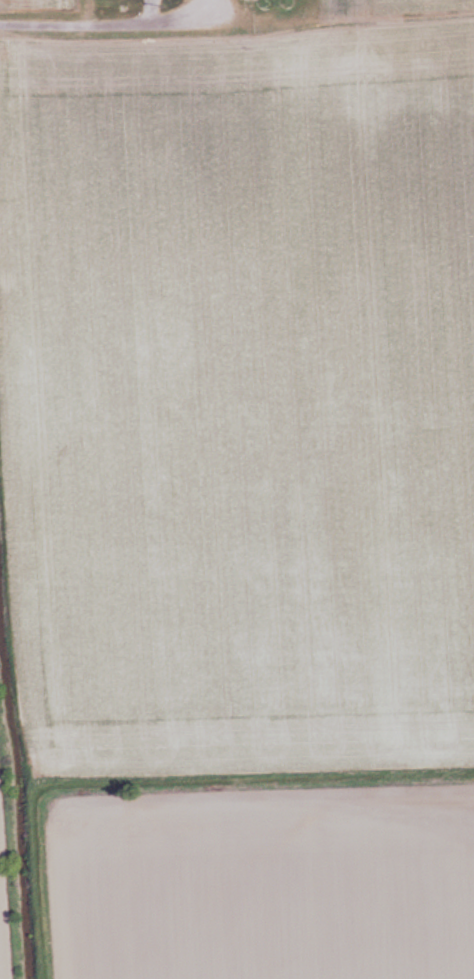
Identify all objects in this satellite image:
road: (95, 17)

